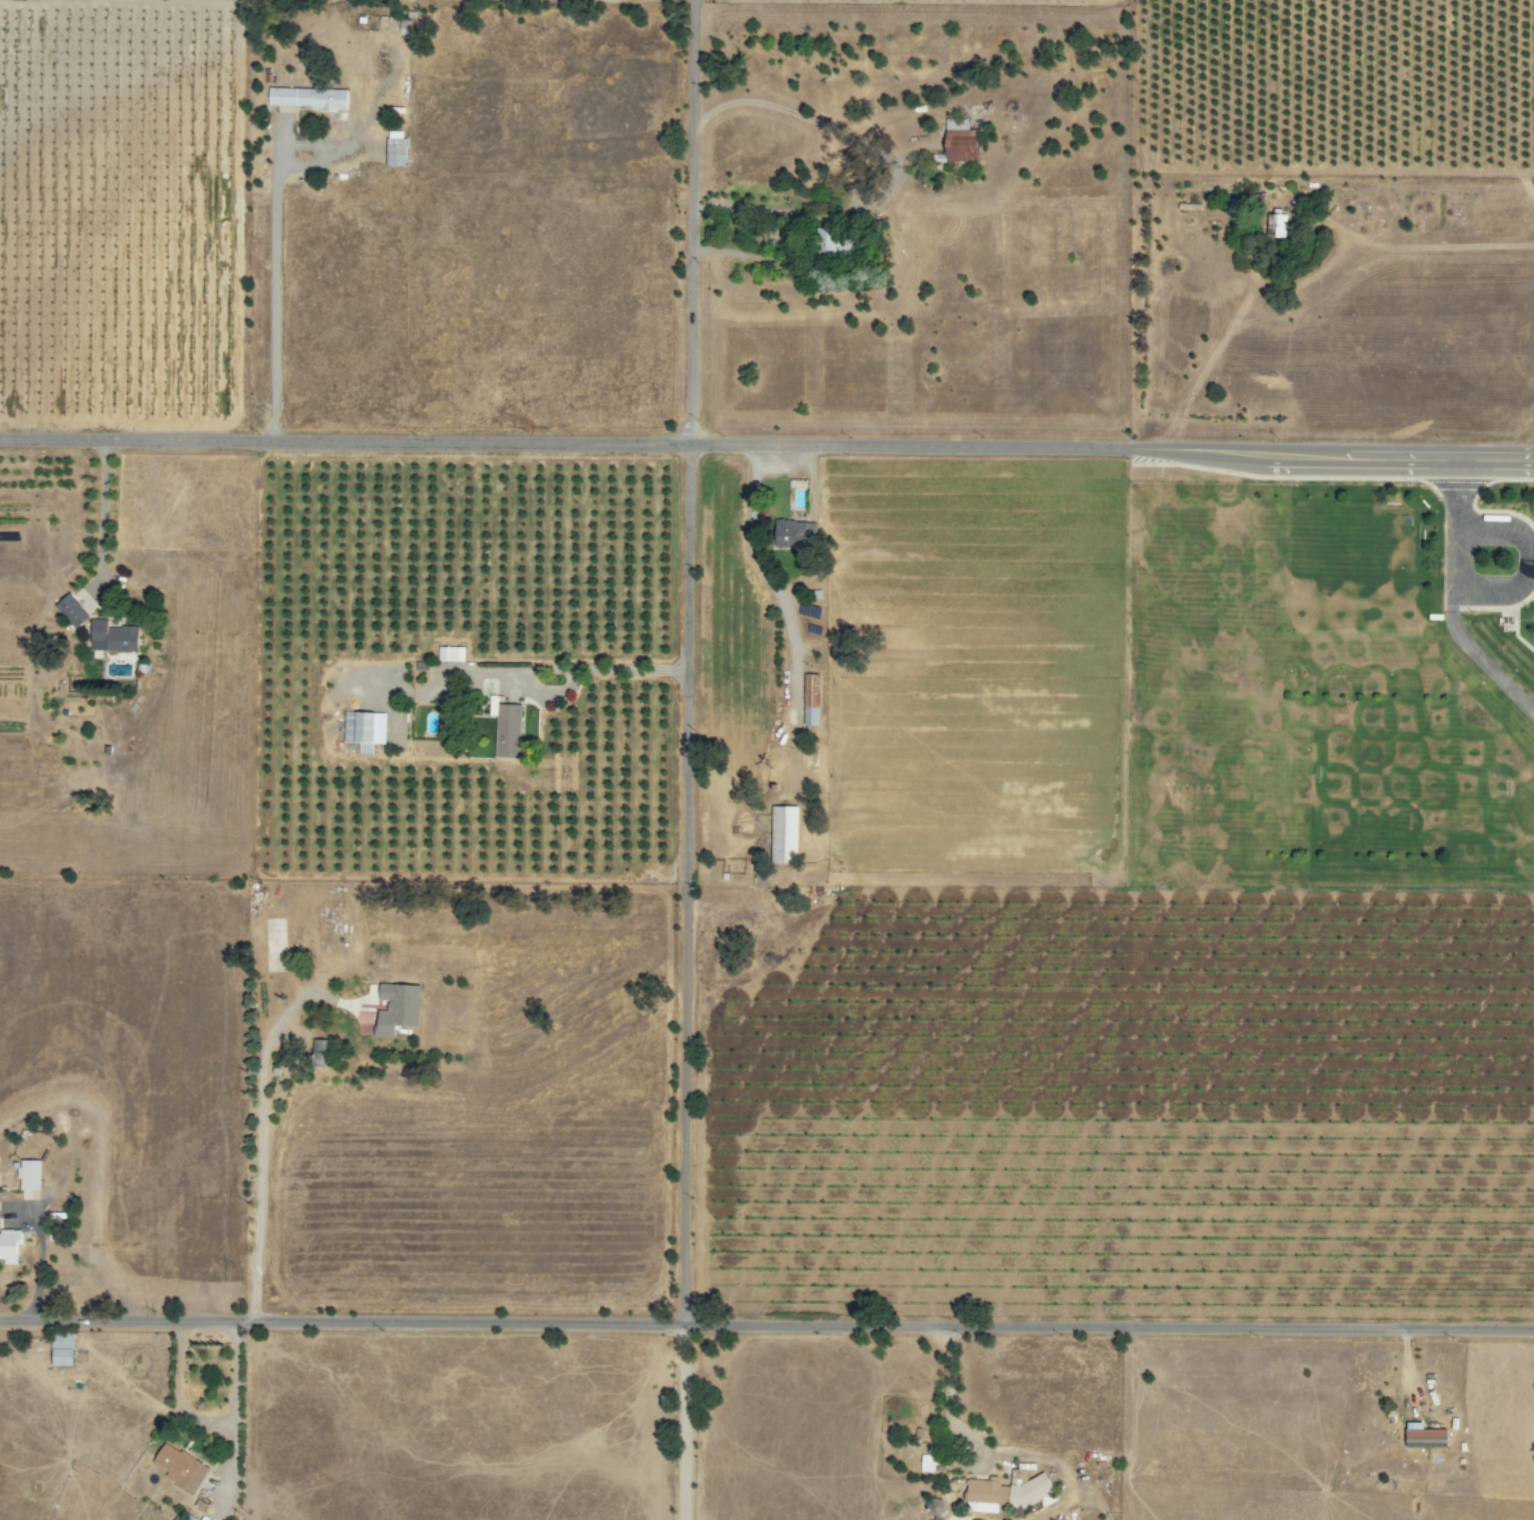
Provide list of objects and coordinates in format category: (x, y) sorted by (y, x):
building: (308, 98)
building: (962, 141)
building: (397, 148)
crop: (124, 214)
building: (1272, 225)
building: (836, 243)
road: (272, 289)
road: (767, 440)
road: (100, 511)
building: (796, 534)
building: (72, 611)
building: (113, 637)
building: (451, 654)
building: (812, 700)
building: (491, 705)
building: (364, 730)
building: (508, 731)
road: (679, 760)
building: (779, 833)
building: (392, 1007)
building: (313, 1052)
crop: (1115, 1100)
road: (258, 1138)
building: (30, 1174)
building: (10, 1246)
road: (39, 1251)
road: (766, 1323)
building: (63, 1349)
road: (208, 1426)
building: (1421, 1438)
building: (924, 1462)
building: (180, 1468)

